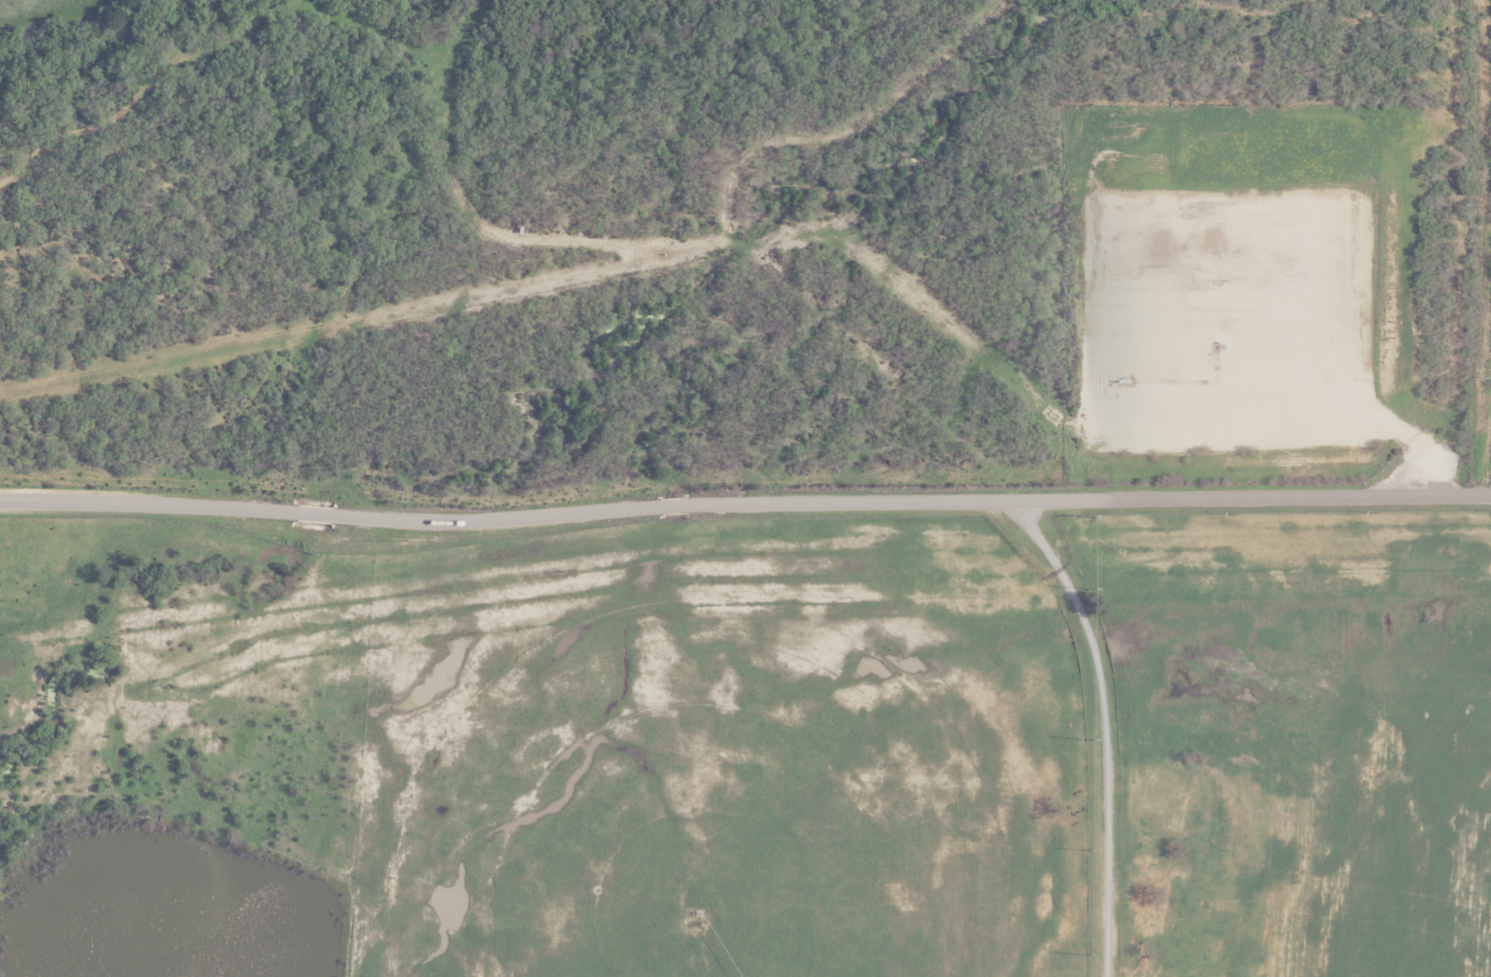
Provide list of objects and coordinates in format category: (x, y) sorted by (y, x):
road: (1087, 500)
road: (146, 504)
road: (673, 506)
road: (312, 513)
road: (495, 518)
road: (1104, 725)

